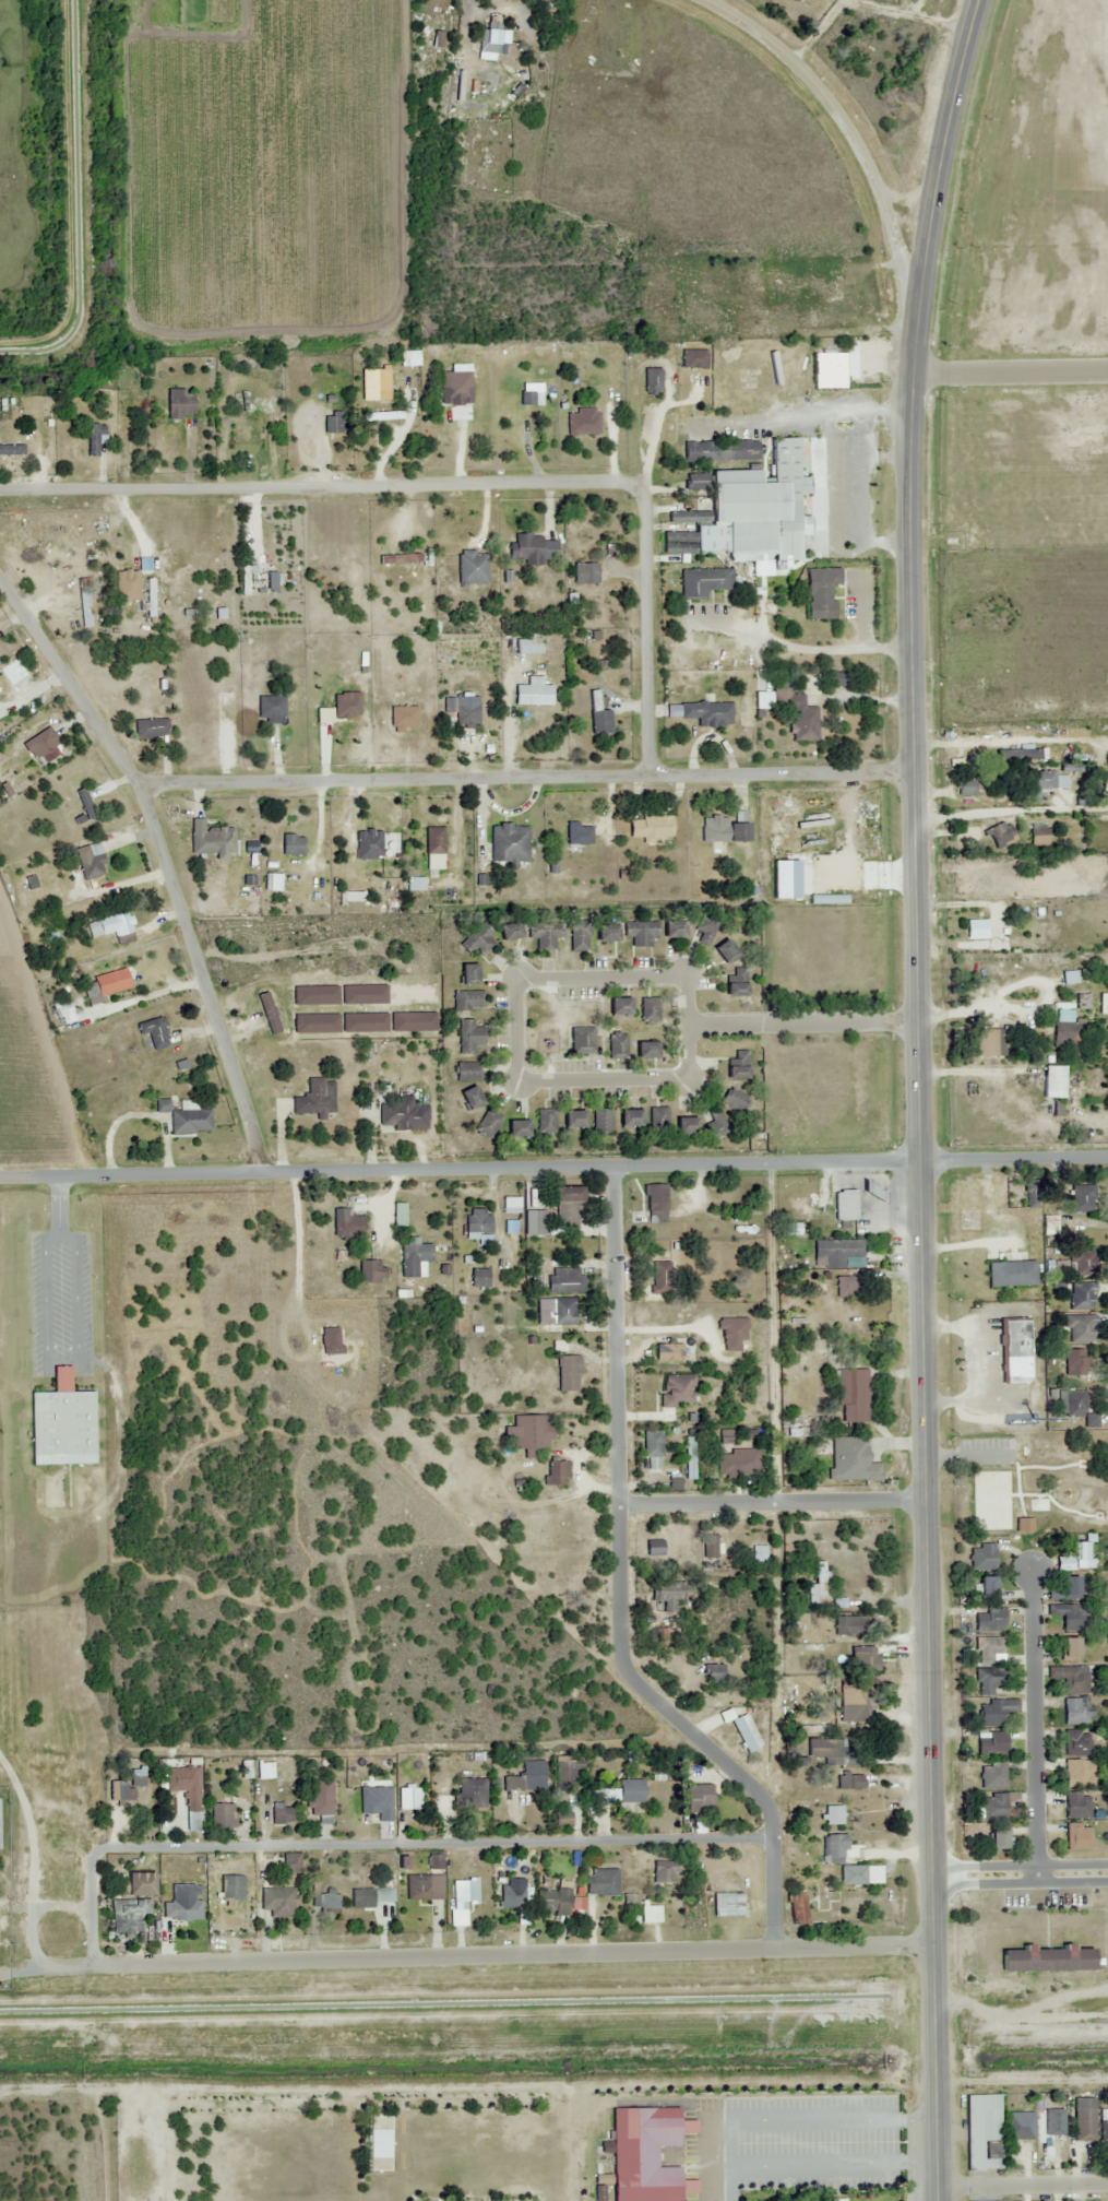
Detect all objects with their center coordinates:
building: (490, 43)
road: (849, 126)
road: (948, 150)
building: (748, 276)
building: (829, 287)
building: (693, 359)
building: (829, 371)
building: (374, 380)
building: (652, 381)
building: (455, 391)
building: (526, 395)
building: (181, 403)
building: (262, 407)
building: (384, 418)
building: (332, 423)
building: (582, 423)
building: (95, 439)
building: (12, 449)
building: (741, 450)
building: (702, 451)
road: (466, 484)
building: (754, 505)
building: (687, 517)
building: (678, 544)
building: (533, 548)
building: (327, 551)
building: (400, 559)
building: (472, 567)
building: (585, 573)
building: (258, 582)
building: (703, 582)
building: (147, 591)
building: (821, 593)
building: (85, 602)
building: (527, 647)
building: (533, 695)
building: (272, 707)
building: (466, 710)
building: (706, 712)
building: (598, 715)
building: (403, 717)
building: (799, 718)
building: (152, 727)
road: (913, 731)
building: (45, 746)
building: (1025, 755)
road: (527, 778)
building: (1041, 782)
building: (1105, 784)
building: (86, 803)
road: (1011, 810)
building: (648, 827)
building: (723, 830)
building: (577, 835)
building: (1000, 835)
building: (1038, 836)
building: (432, 840)
building: (214, 841)
building: (509, 843)
building: (291, 844)
building: (368, 844)
road: (165, 860)
building: (91, 861)
building: (119, 921)
building: (672, 928)
building: (706, 930)
building: (975, 930)
building: (509, 931)
building: (640, 932)
building: (545, 933)
building: (605, 933)
building: (580, 935)
building: (724, 951)
building: (467, 974)
building: (1069, 978)
road: (517, 981)
building: (735, 983)
building: (468, 1001)
building: (1084, 1002)
building: (618, 1006)
building: (64, 1008)
building: (648, 1009)
building: (267, 1013)
road: (805, 1028)
building: (154, 1032)
building: (1067, 1032)
building: (469, 1037)
building: (582, 1040)
building: (997, 1043)
building: (617, 1045)
building: (644, 1050)
building: (737, 1065)
building: (467, 1072)
building: (1052, 1081)
building: (315, 1098)
building: (469, 1098)
building: (736, 1100)
building: (403, 1115)
building: (629, 1119)
building: (658, 1119)
building: (190, 1120)
building: (573, 1120)
building: (546, 1121)
building: (601, 1122)
building: (715, 1122)
building: (488, 1124)
building: (684, 1126)
building: (516, 1129)
road: (553, 1169)
building: (1033, 1195)
building: (1082, 1198)
building: (654, 1204)
building: (844, 1205)
building: (510, 1206)
building: (567, 1206)
building: (534, 1220)
building: (477, 1222)
building: (346, 1223)
building: (1049, 1224)
building: (835, 1253)
building: (414, 1258)
building: (1084, 1264)
building: (370, 1271)
building: (478, 1277)
building: (660, 1278)
building: (565, 1280)
building: (845, 1286)
building: (1081, 1297)
building: (561, 1311)
building: (1080, 1328)
building: (731, 1334)
building: (1014, 1341)
building: (1075, 1362)
building: (568, 1373)
building: (678, 1391)
building: (851, 1396)
building: (1079, 1407)
building: (62, 1423)
building: (532, 1432)
building: (653, 1449)
building: (729, 1457)
building: (690, 1458)
building: (851, 1459)
building: (556, 1472)
road: (777, 1503)
building: (551, 1520)
building: (710, 1547)
building: (654, 1548)
road: (929, 1552)
building: (759, 1557)
building: (981, 1557)
building: (1076, 1557)
building: (565, 1559)
building: (821, 1582)
building: (576, 1583)
building: (986, 1586)
building: (1070, 1587)
road: (622, 1590)
building: (668, 1596)
building: (1067, 1616)
building: (990, 1619)
building: (850, 1626)
building: (1069, 1647)
building: (989, 1648)
building: (865, 1659)
building: (713, 1672)
building: (1071, 1679)
building: (988, 1681)
building: (537, 1696)
building: (854, 1703)
building: (996, 1712)
building: (1076, 1712)
road: (1035, 1723)
building: (991, 1743)
building: (1076, 1743)
building: (829, 1750)
building: (264, 1771)
building: (567, 1773)
building: (1080, 1774)
building: (992, 1775)
building: (525, 1778)
building: (849, 1783)
building: (126, 1786)
building: (629, 1791)
building: (187, 1792)
building: (472, 1794)
building: (600, 1796)
building: (409, 1798)
building: (698, 1798)
building: (320, 1801)
building: (1076, 1806)
building: (993, 1807)
building: (223, 1815)
building: (281, 1815)
building: (834, 1815)
building: (1077, 1837)
building: (996, 1839)
road: (430, 1845)
building: (837, 1850)
building: (665, 1872)
road: (1022, 1878)
building: (600, 1883)
building: (133, 1885)
building: (230, 1888)
building: (417, 1888)
building: (464, 1894)
building: (510, 1895)
building: (826, 1896)
building: (369, 1897)
building: (324, 1900)
building: (276, 1902)
building: (552, 1902)
building: (727, 1905)
building: (182, 1907)
building: (797, 1909)
road: (93, 1917)
building: (129, 1917)
road: (513, 1956)
building: (1046, 1960)
road: (938, 2072)
building: (1086, 2114)
building: (1018, 2126)
building: (1104, 2127)
building: (982, 2132)
building: (645, 2154)
road: (1025, 2187)

